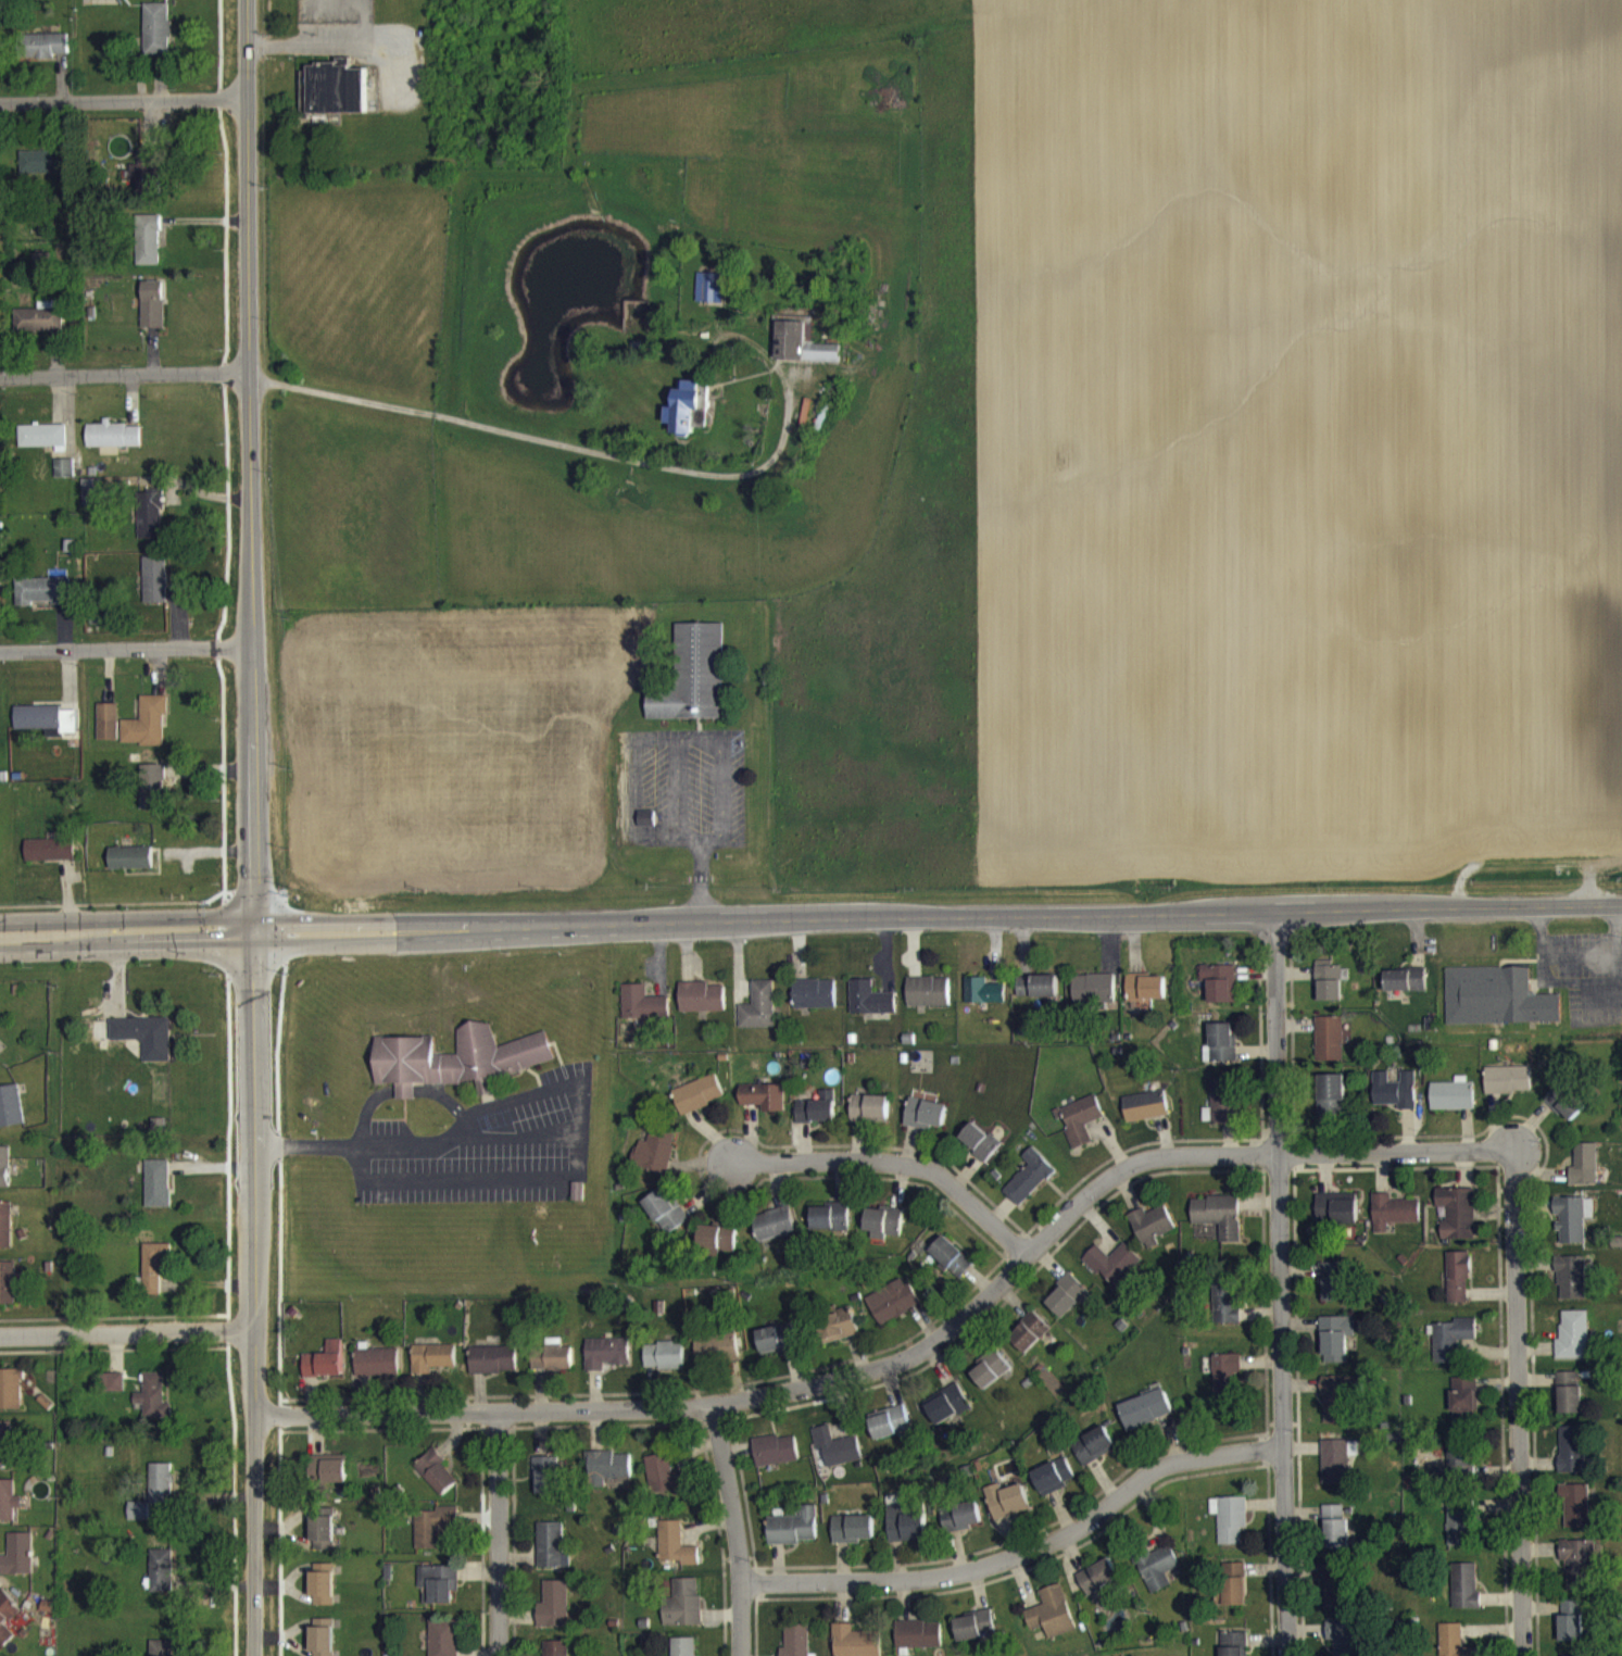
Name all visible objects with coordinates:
building: (101, 1)
building: (158, 39)
road: (329, 43)
building: (47, 57)
road: (124, 99)
building: (335, 99)
building: (42, 173)
building: (148, 181)
building: (148, 251)
building: (711, 299)
building: (153, 315)
building: (41, 328)
building: (803, 353)
road: (124, 375)
building: (688, 421)
building: (113, 446)
building: (42, 447)
road: (595, 451)
road: (250, 465)
building: (64, 479)
building: (92, 503)
building: (150, 525)
building: (155, 590)
building: (42, 602)
road: (126, 647)
building: (694, 688)
building: (47, 730)
building: (108, 732)
building: (147, 733)
road: (693, 737)
building: (152, 798)
building: (645, 829)
building: (50, 861)
building: (130, 869)
road: (703, 881)
road: (938, 915)
traffic signals: (254, 931)
road: (127, 933)
road: (1580, 965)
building: (1404, 989)
building: (1328, 992)
building: (1219, 994)
building: (1145, 998)
building: (1036, 999)
building: (1093, 999)
building: (983, 1002)
building: (928, 1003)
building: (814, 1005)
building: (701, 1008)
building: (1496, 1008)
building: (869, 1009)
building: (642, 1015)
building: (758, 1018)
building: (146, 1046)
building: (1328, 1051)
building: (1222, 1054)
building: (456, 1070)
building: (1508, 1090)
building: (1394, 1101)
building: (697, 1105)
building: (1330, 1106)
building: (1453, 1106)
building: (763, 1107)
building: (1566, 1113)
building: (1220, 1114)
building: (11, 1117)
building: (1145, 1117)
building: (869, 1118)
building: (816, 1120)
building: (925, 1125)
building: (1081, 1131)
road: (569, 1149)
building: (979, 1152)
building: (654, 1161)
road: (892, 1172)
building: (1584, 1176)
building: (4, 1178)
building: (1029, 1188)
building: (158, 1194)
building: (1335, 1219)
building: (665, 1221)
building: (1393, 1222)
building: (1457, 1224)
building: (1219, 1226)
building: (831, 1228)
building: (1572, 1229)
building: (883, 1233)
building: (774, 1234)
building: (5, 1235)
building: (1152, 1237)
building: (717, 1249)
building: (952, 1267)
building: (1112, 1274)
building: (153, 1280)
road: (1283, 1281)
building: (1458, 1289)
building: (1571, 1289)
road: (254, 1293)
building: (7, 1294)
building: (1335, 1300)
building: (1068, 1306)
building: (892, 1312)
building: (1227, 1312)
building: (843, 1325)
road: (127, 1333)
building: (1029, 1343)
building: (1573, 1345)
building: (1336, 1350)
building: (1450, 1350)
road: (913, 1351)
building: (770, 1352)
building: (716, 1360)
building: (605, 1364)
building: (664, 1367)
building: (432, 1368)
building: (493, 1370)
building: (325, 1372)
building: (377, 1372)
building: (990, 1380)
building: (1227, 1385)
building: (113, 1393)
building: (11, 1401)
building: (1570, 1404)
road: (1510, 1405)
building: (152, 1407)
building: (1464, 1407)
building: (1335, 1415)
building: (947, 1416)
building: (1146, 1420)
building: (889, 1433)
building: (5, 1455)
building: (1094, 1457)
building: (835, 1458)
building: (1572, 1460)
building: (775, 1461)
building: (1456, 1465)
building: (1336, 1472)
building: (606, 1478)
building: (328, 1479)
building: (436, 1482)
building: (544, 1485)
building: (663, 1486)
building: (1053, 1488)
building: (153, 1503)
building: (1006, 1510)
building: (8, 1511)
building: (1575, 1517)
building: (1334, 1520)
building: (960, 1528)
road: (725, 1530)
building: (1231, 1530)
road: (500, 1533)
building: (905, 1534)
building: (433, 1538)
building: (1459, 1538)
building: (793, 1539)
building: (852, 1540)
building: (323, 1544)
building: (1337, 1545)
building: (549, 1556)
building: (675, 1556)
road: (1021, 1558)
building: (17, 1566)
building: (1158, 1579)
building: (1576, 1580)
building: (161, 1581)
building: (1098, 1588)
building: (323, 1595)
building: (438, 1595)
building: (1233, 1595)
building: (1467, 1598)
building: (682, 1615)
building: (553, 1616)
building: (1052, 1623)
building: (7, 1628)
building: (1572, 1632)
building: (975, 1636)
building: (323, 1642)
building: (443, 1643)
building: (1343, 1643)
building: (919, 1644)
building: (796, 1645)
building: (1451, 1645)
building: (855, 1647)
building: (1233, 1649)
building: (683, 1652)
building: (161, 1653)
building: (555, 1654)

